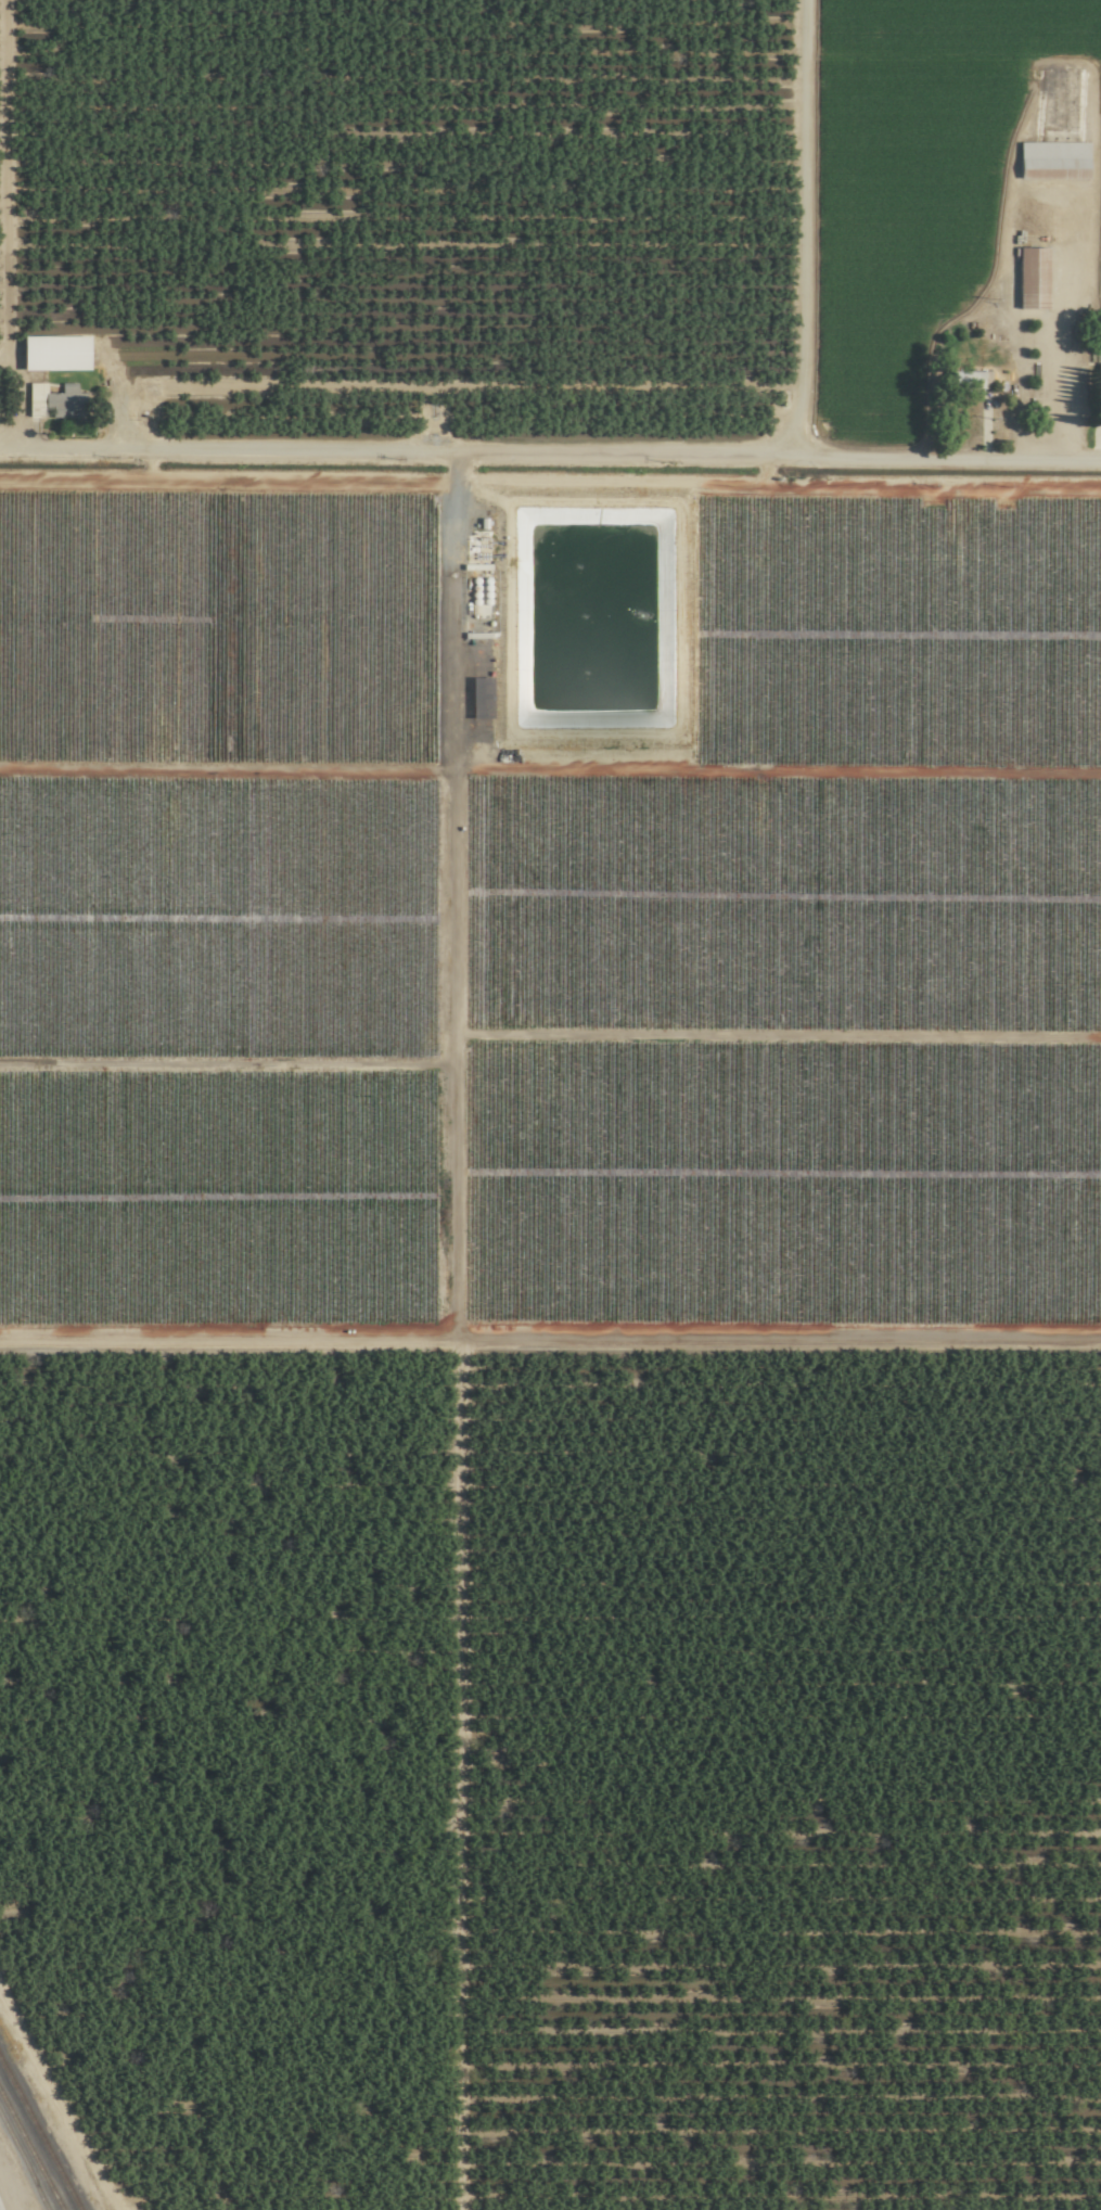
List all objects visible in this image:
building: (1049, 155)
road: (804, 229)
building: (1027, 277)
building: (49, 352)
building: (1098, 375)
building: (50, 398)
road: (550, 458)
railway: (39, 2136)
railway: (28, 2155)
railway: (22, 2166)

